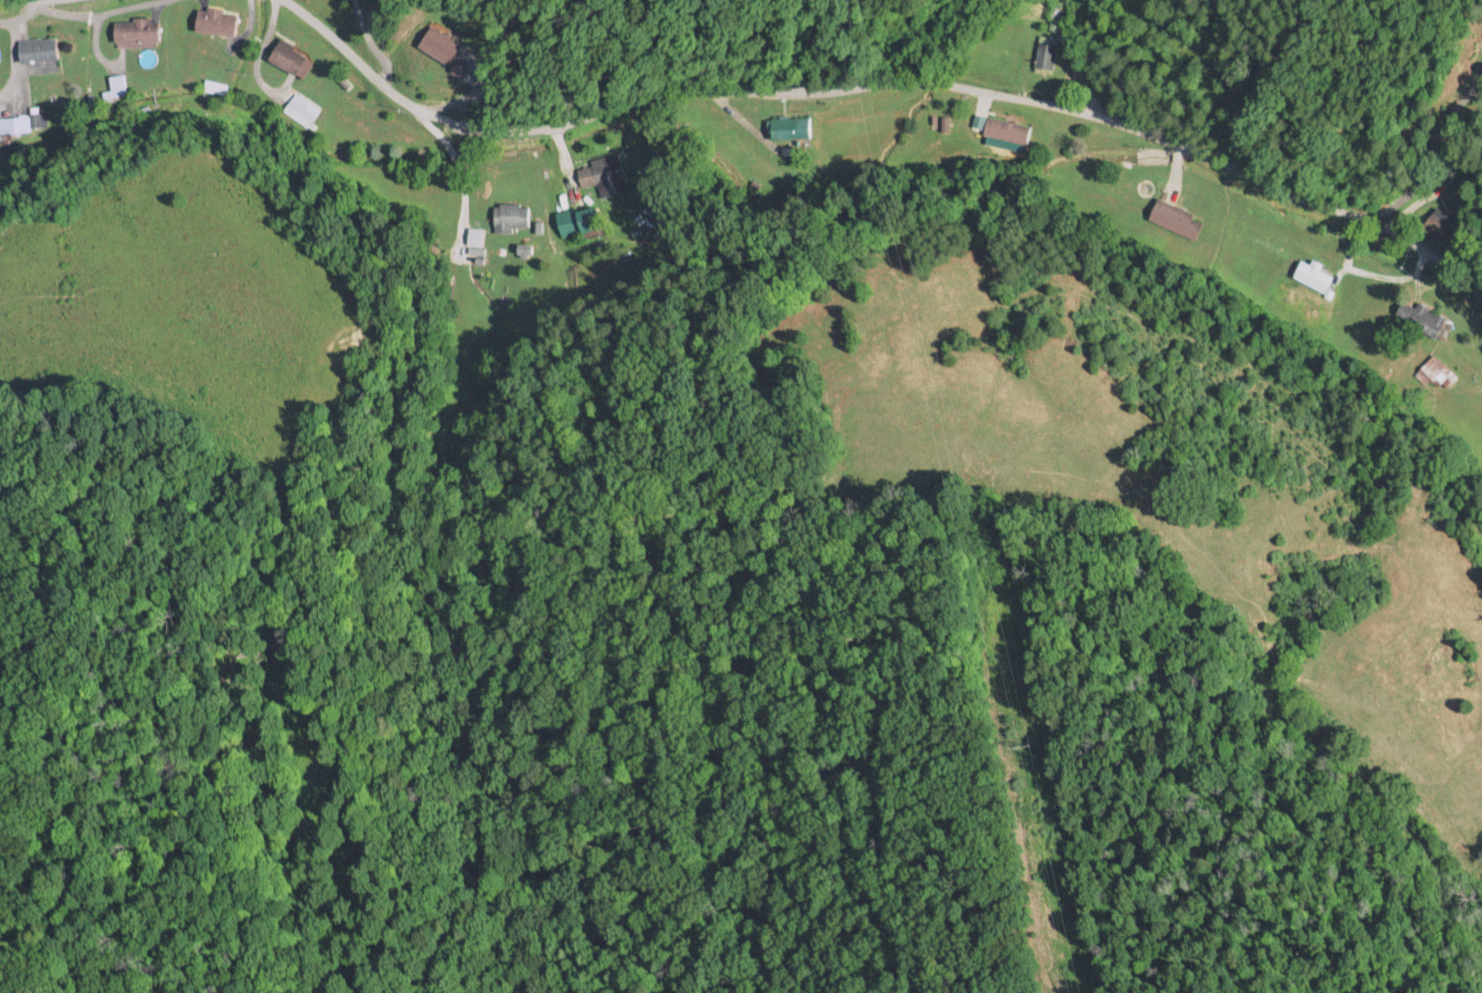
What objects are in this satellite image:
building: (215, 20)
building: (135, 31)
building: (438, 43)
building: (36, 48)
road: (1025, 53)
building: (1045, 53)
building: (287, 55)
road: (888, 84)
building: (299, 112)
building: (24, 122)
building: (789, 126)
building: (1006, 129)
building: (604, 175)
road: (1434, 203)
building: (510, 217)
building: (1175, 218)
building: (589, 221)
building: (1435, 223)
building: (475, 237)
building: (1423, 318)
building: (1435, 372)

